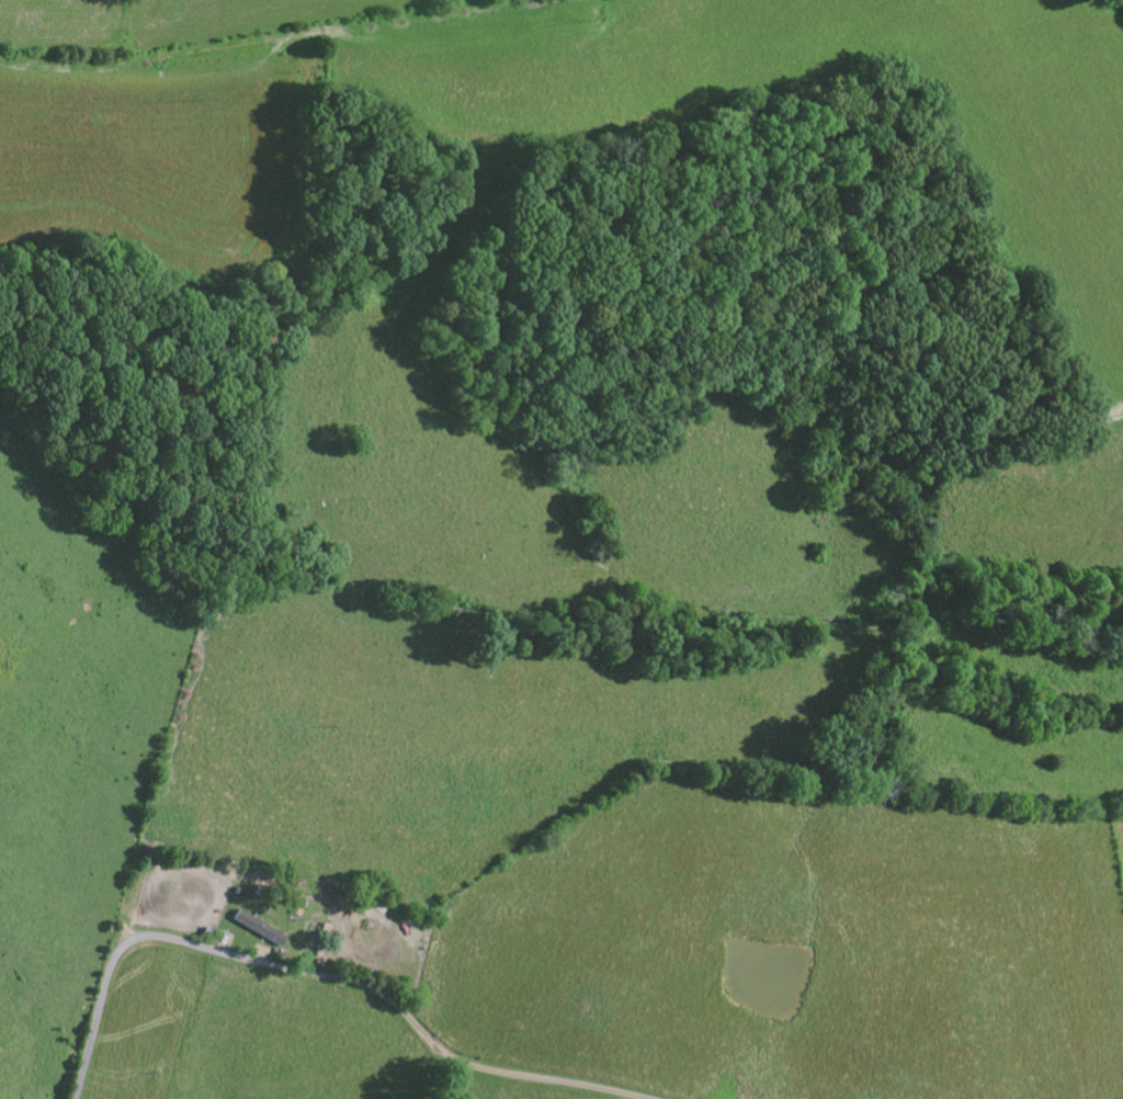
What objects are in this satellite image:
road: (321, 974)

